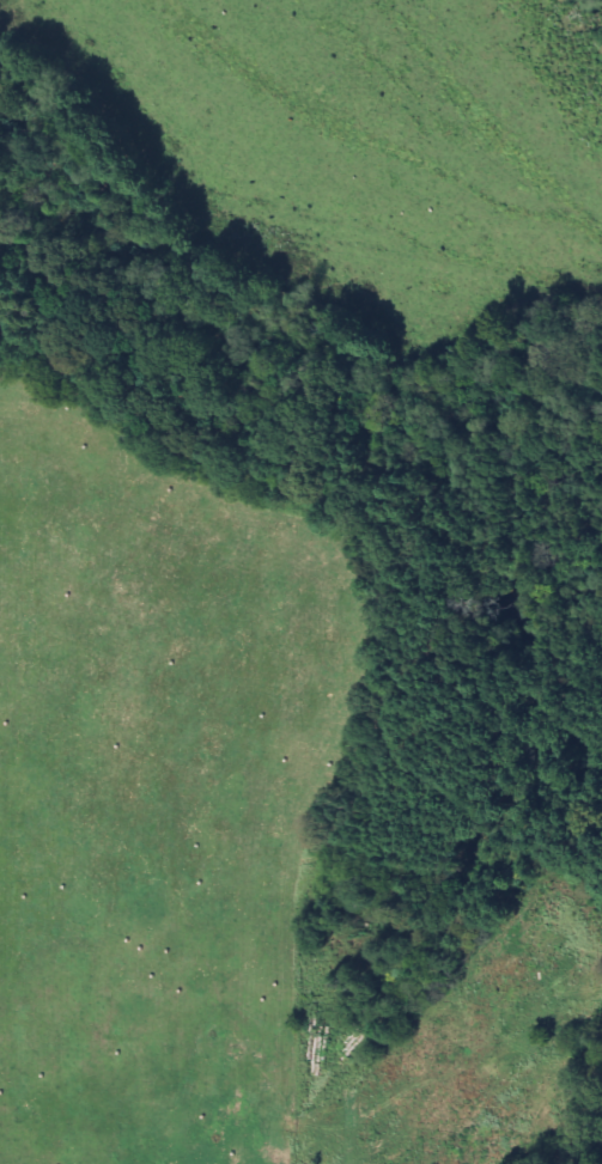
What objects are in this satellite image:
road: (320, 886)

